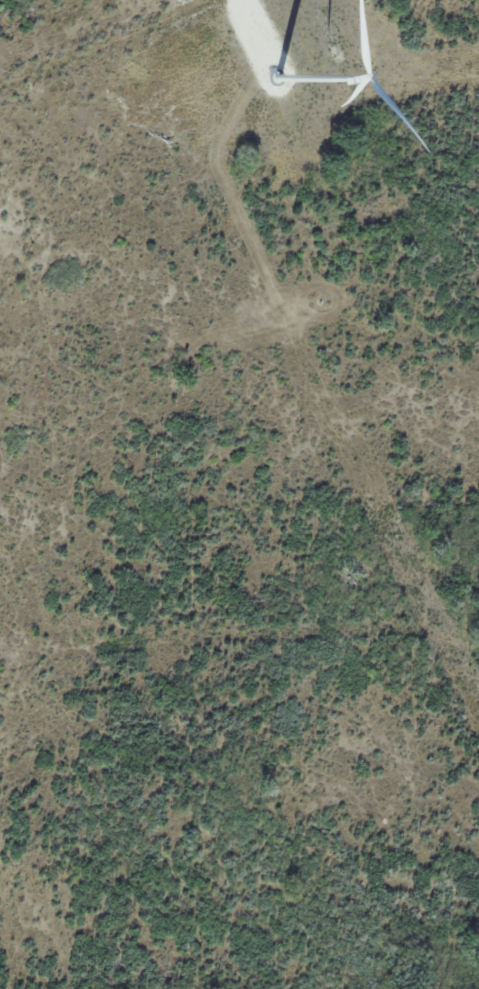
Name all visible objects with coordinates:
wind turbine: (276, 71)

